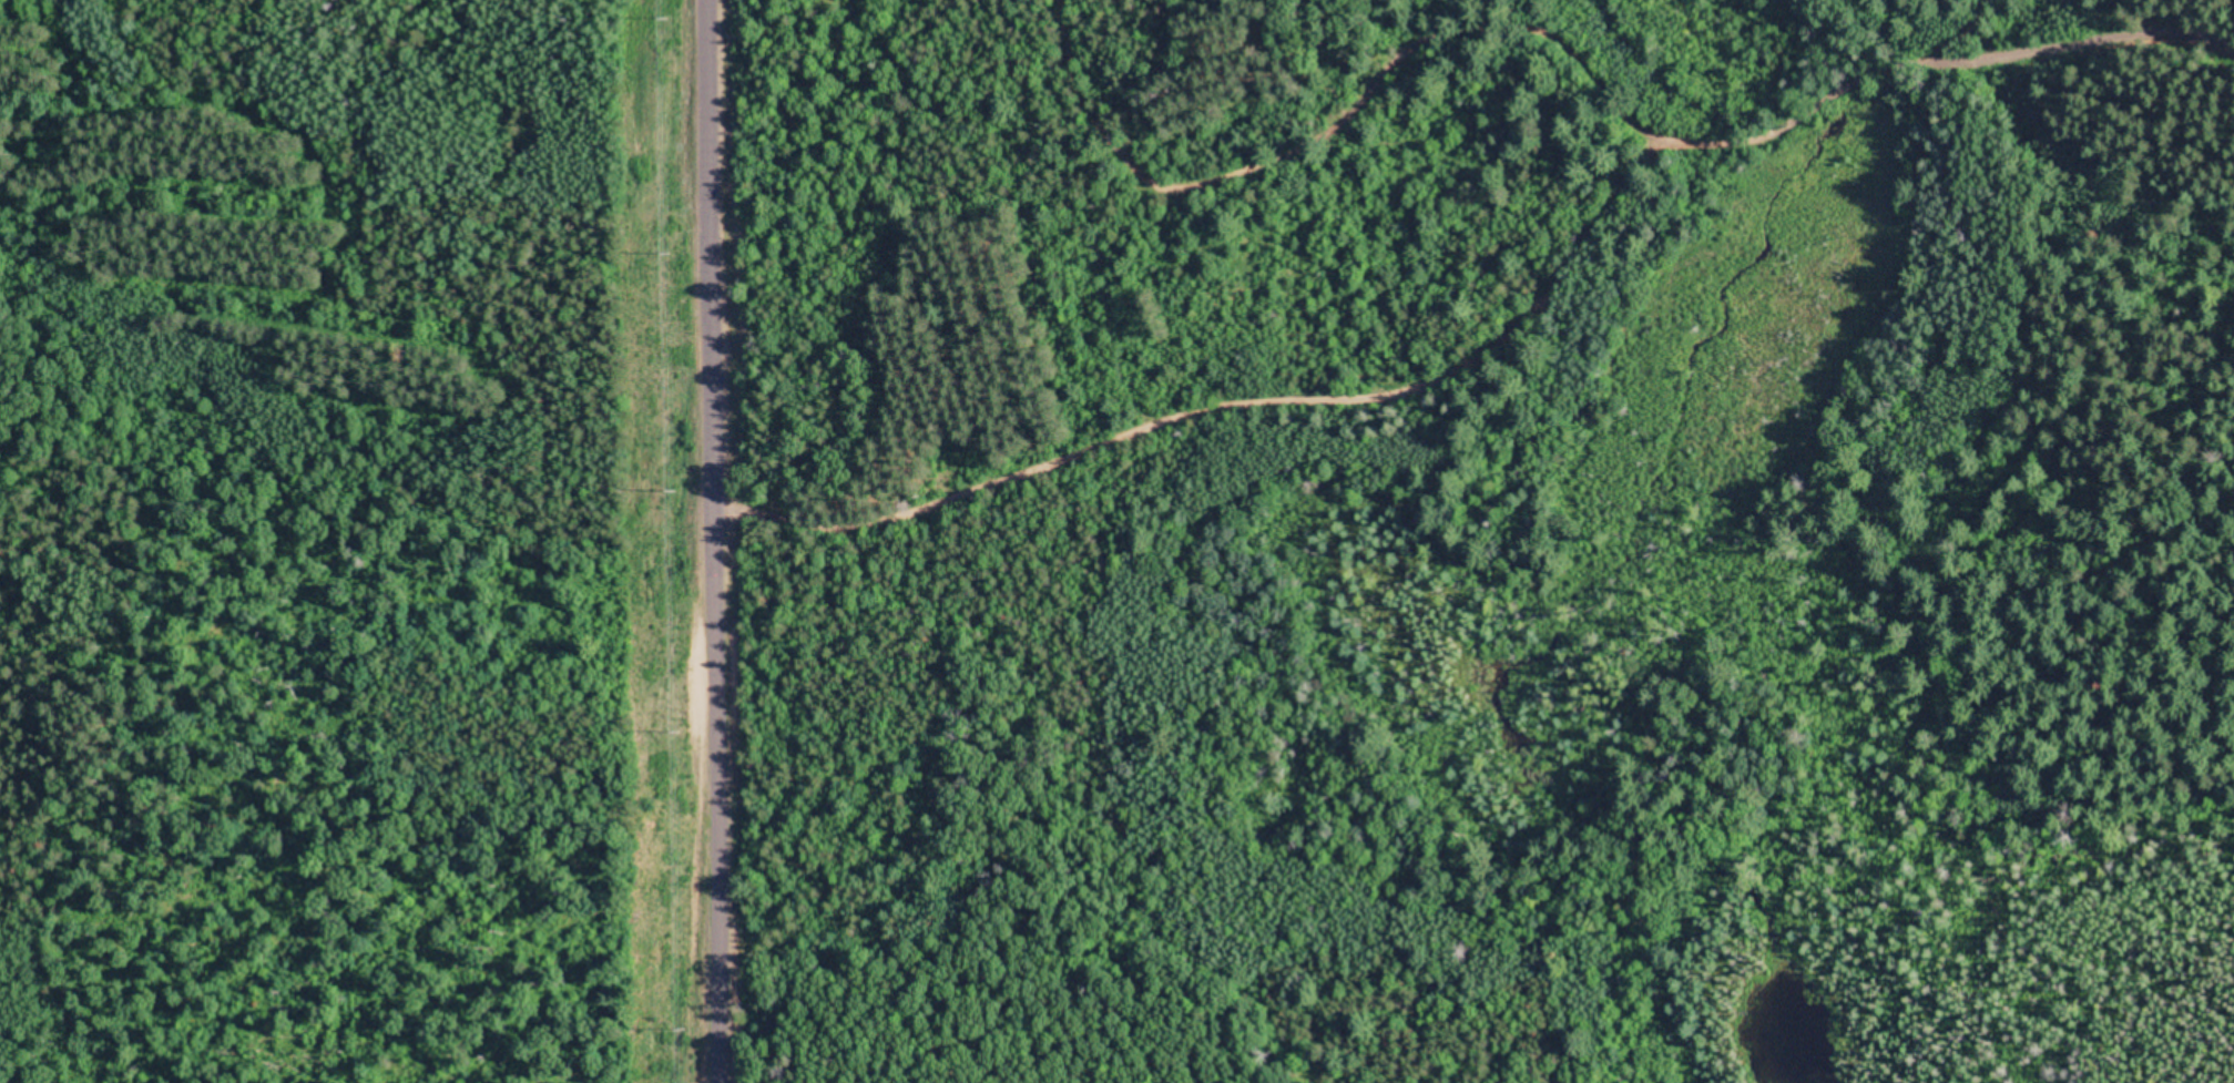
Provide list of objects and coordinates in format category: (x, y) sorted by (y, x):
road: (2105, 33)
road: (1731, 88)
road: (1237, 356)
road: (717, 541)

